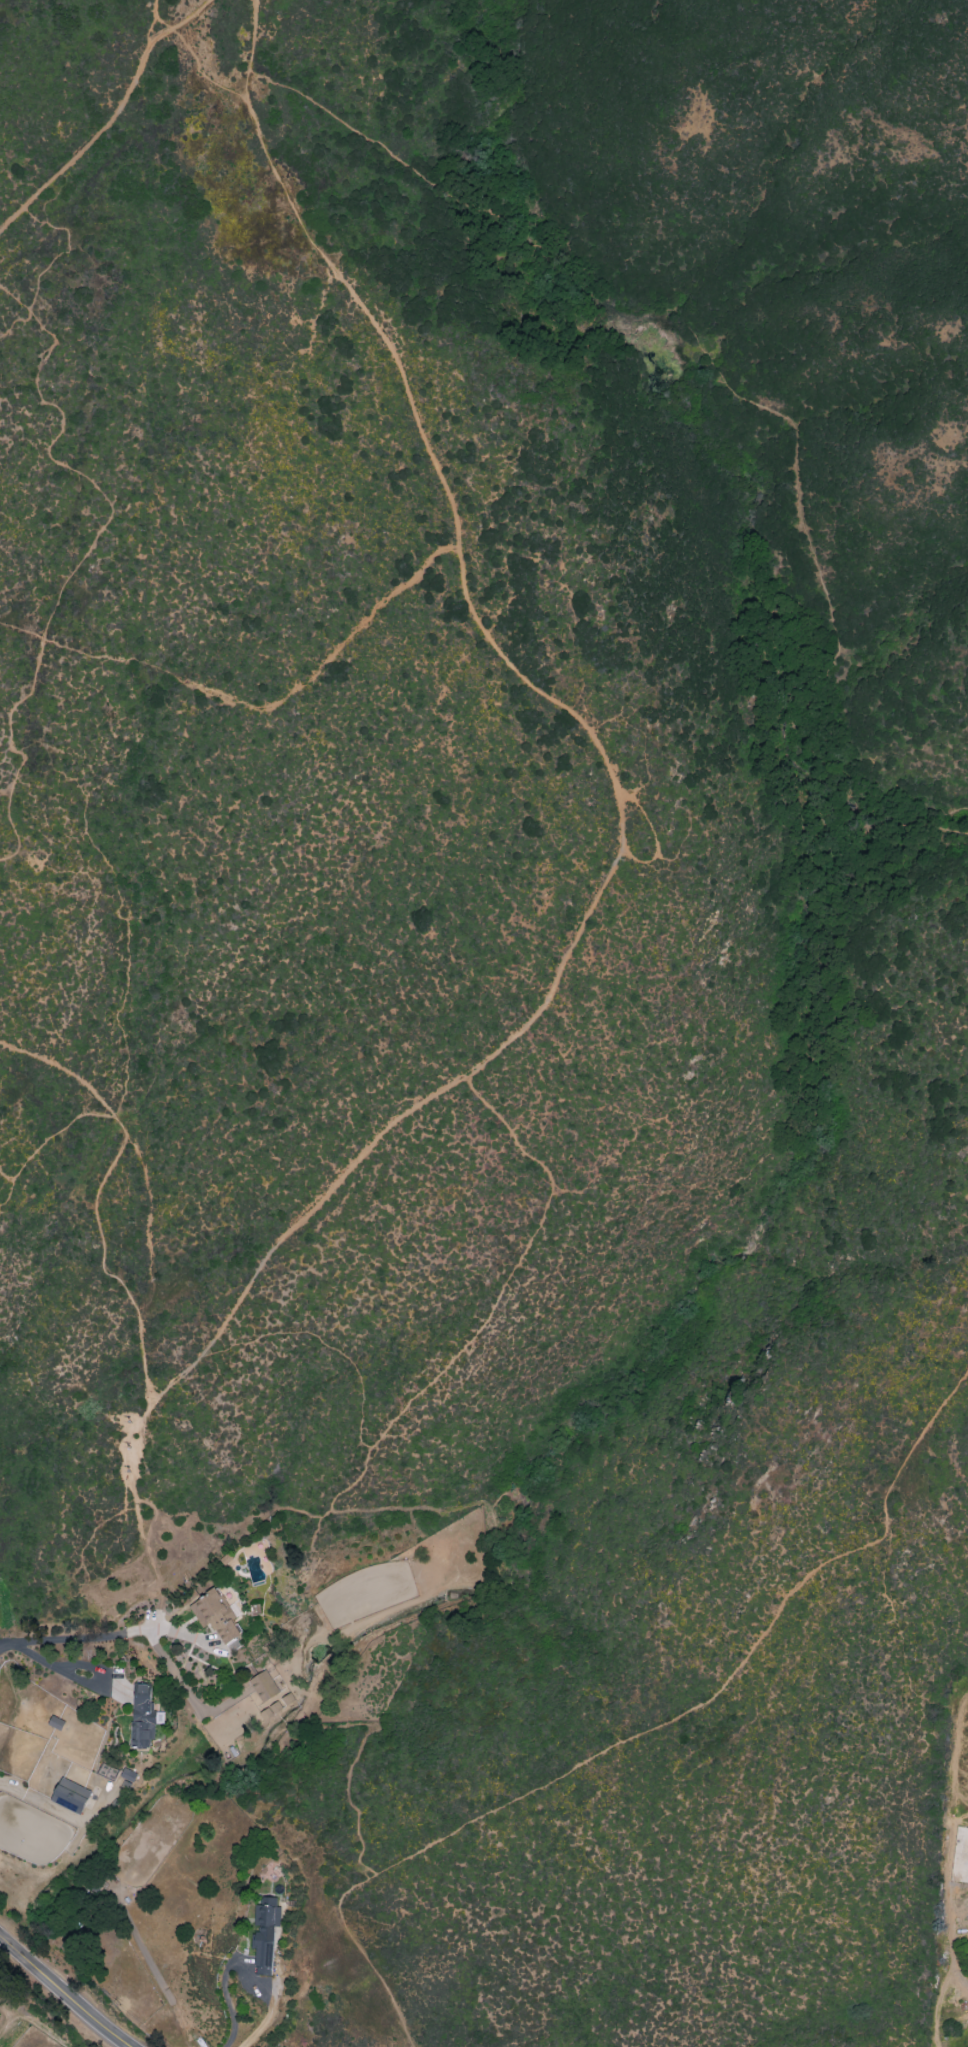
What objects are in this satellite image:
road: (155, 16)
road: (202, 72)
road: (113, 117)
road: (48, 263)
road: (626, 291)
road: (424, 435)
road: (84, 553)
road: (254, 706)
road: (654, 834)
road: (118, 903)
road: (49, 1137)
road: (354, 1161)
road: (147, 1186)
road: (7, 1193)
road: (100, 1231)
road: (323, 1343)
road: (452, 1361)
building: (216, 1616)
road: (99, 1636)
road: (70, 1672)
road: (182, 1690)
building: (269, 1695)
road: (647, 1731)
road: (954, 1746)
building: (127, 1777)
road: (348, 1777)
building: (70, 1795)
building: (264, 1932)
road: (240, 1968)
road: (64, 1993)
road: (4, 2006)
road: (4, 2016)

